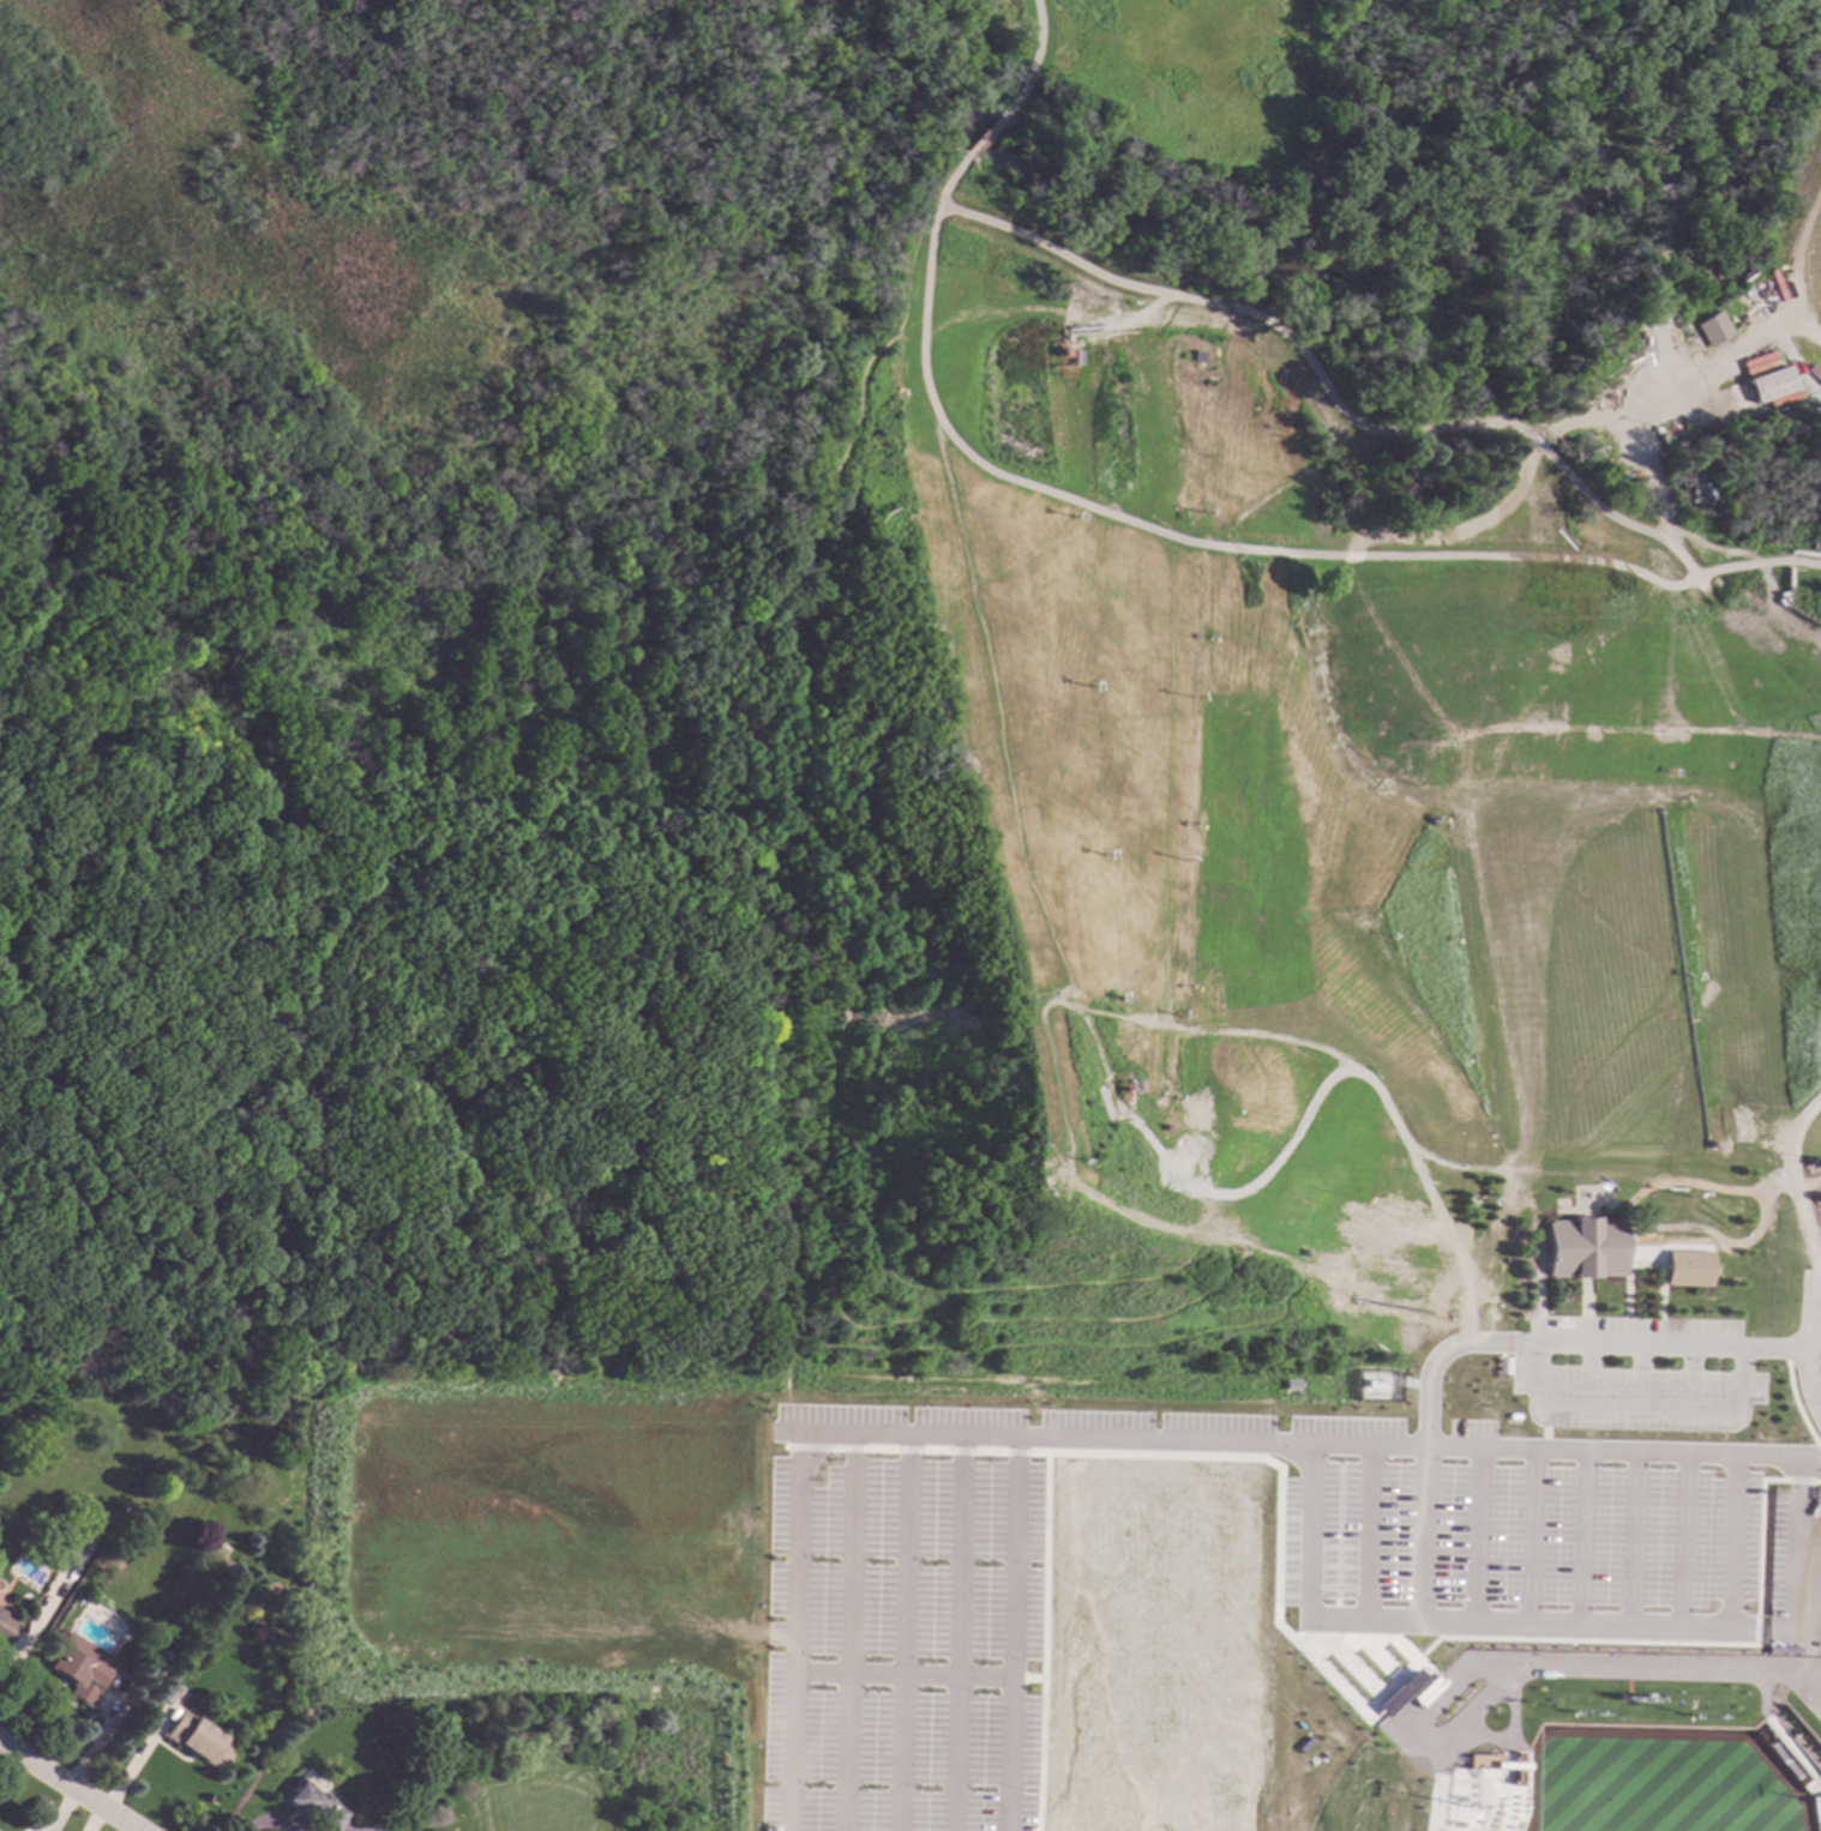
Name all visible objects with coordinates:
road: (726, 8)
road: (1033, 62)
road: (982, 137)
river: (1304, 277)
road: (913, 303)
road: (1047, 312)
building: (1711, 327)
building: (1771, 383)
road: (1327, 391)
road: (1567, 426)
aerialway pylon: (1076, 523)
road: (1226, 548)
road: (885, 584)
park: (504, 594)
aerialway pylon: (1081, 692)
aerialway pylon: (1086, 857)
road: (603, 865)
road: (734, 932)
aerialway pylon: (1090, 998)
road: (571, 1036)
road: (1306, 1053)
road: (1168, 1098)
building: (1696, 1145)
road: (851, 1161)
road: (1773, 1176)
road: (1702, 1191)
road: (1172, 1193)
road: (1095, 1216)
road: (791, 1228)
road: (1695, 1239)
building: (1573, 1248)
building: (1673, 1269)
road: (1613, 1287)
road: (815, 1288)
road: (1408, 1288)
road: (771, 1290)
road: (1456, 1321)
road: (355, 1331)
road: (1564, 1344)
road: (1793, 1348)
parking lot: (1631, 1374)
road: (1783, 1398)
road: (1628, 1403)
road: (907, 1438)
road: (821, 1447)
road: (1418, 1447)
road: (877, 1450)
road: (906, 1450)
road: (930, 1451)
road: (955, 1451)
road: (984, 1452)
road: (1010, 1452)
road: (1814, 1453)
road: (1791, 1481)
road: (1814, 1482)
road: (1288, 1519)
road: (1273, 1523)
road: (1364, 1534)
road: (1418, 1535)
road: (1472, 1536)
road: (1754, 1536)
road: (1526, 1537)
road: (1288, 1538)
road: (1576, 1538)
road: (1629, 1538)
building: (68, 1540)
road: (1678, 1540)
road: (1332, 1549)
road: (1333, 1549)
parking lot: (1771, 1554)
road: (1287, 1558)
building: (212, 1564)
road: (1333, 1568)
road: (1792, 1576)
road: (1287, 1577)
road: (1333, 1588)
road: (1287, 1596)
road: (1513, 1624)
building: (6, 1627)
road: (1751, 1630)
road: (793, 1633)
road: (843, 1633)
road: (899, 1633)
road: (954, 1634)
road: (1010, 1636)
road: (1372, 1638)
road: (1579, 1640)
road: (1036, 1642)
road: (1318, 1649)
road: (1353, 1666)
building: (76, 1673)
road: (900, 1676)
road: (1022, 1679)
building: (1422, 1691)
building: (1394, 1693)
building: (200, 1704)
parking lot: (895, 1719)
building: (198, 1739)
building: (1795, 1766)
park: (1655, 1781)
road: (68, 1787)
building: (1483, 1795)
building: (313, 1805)

